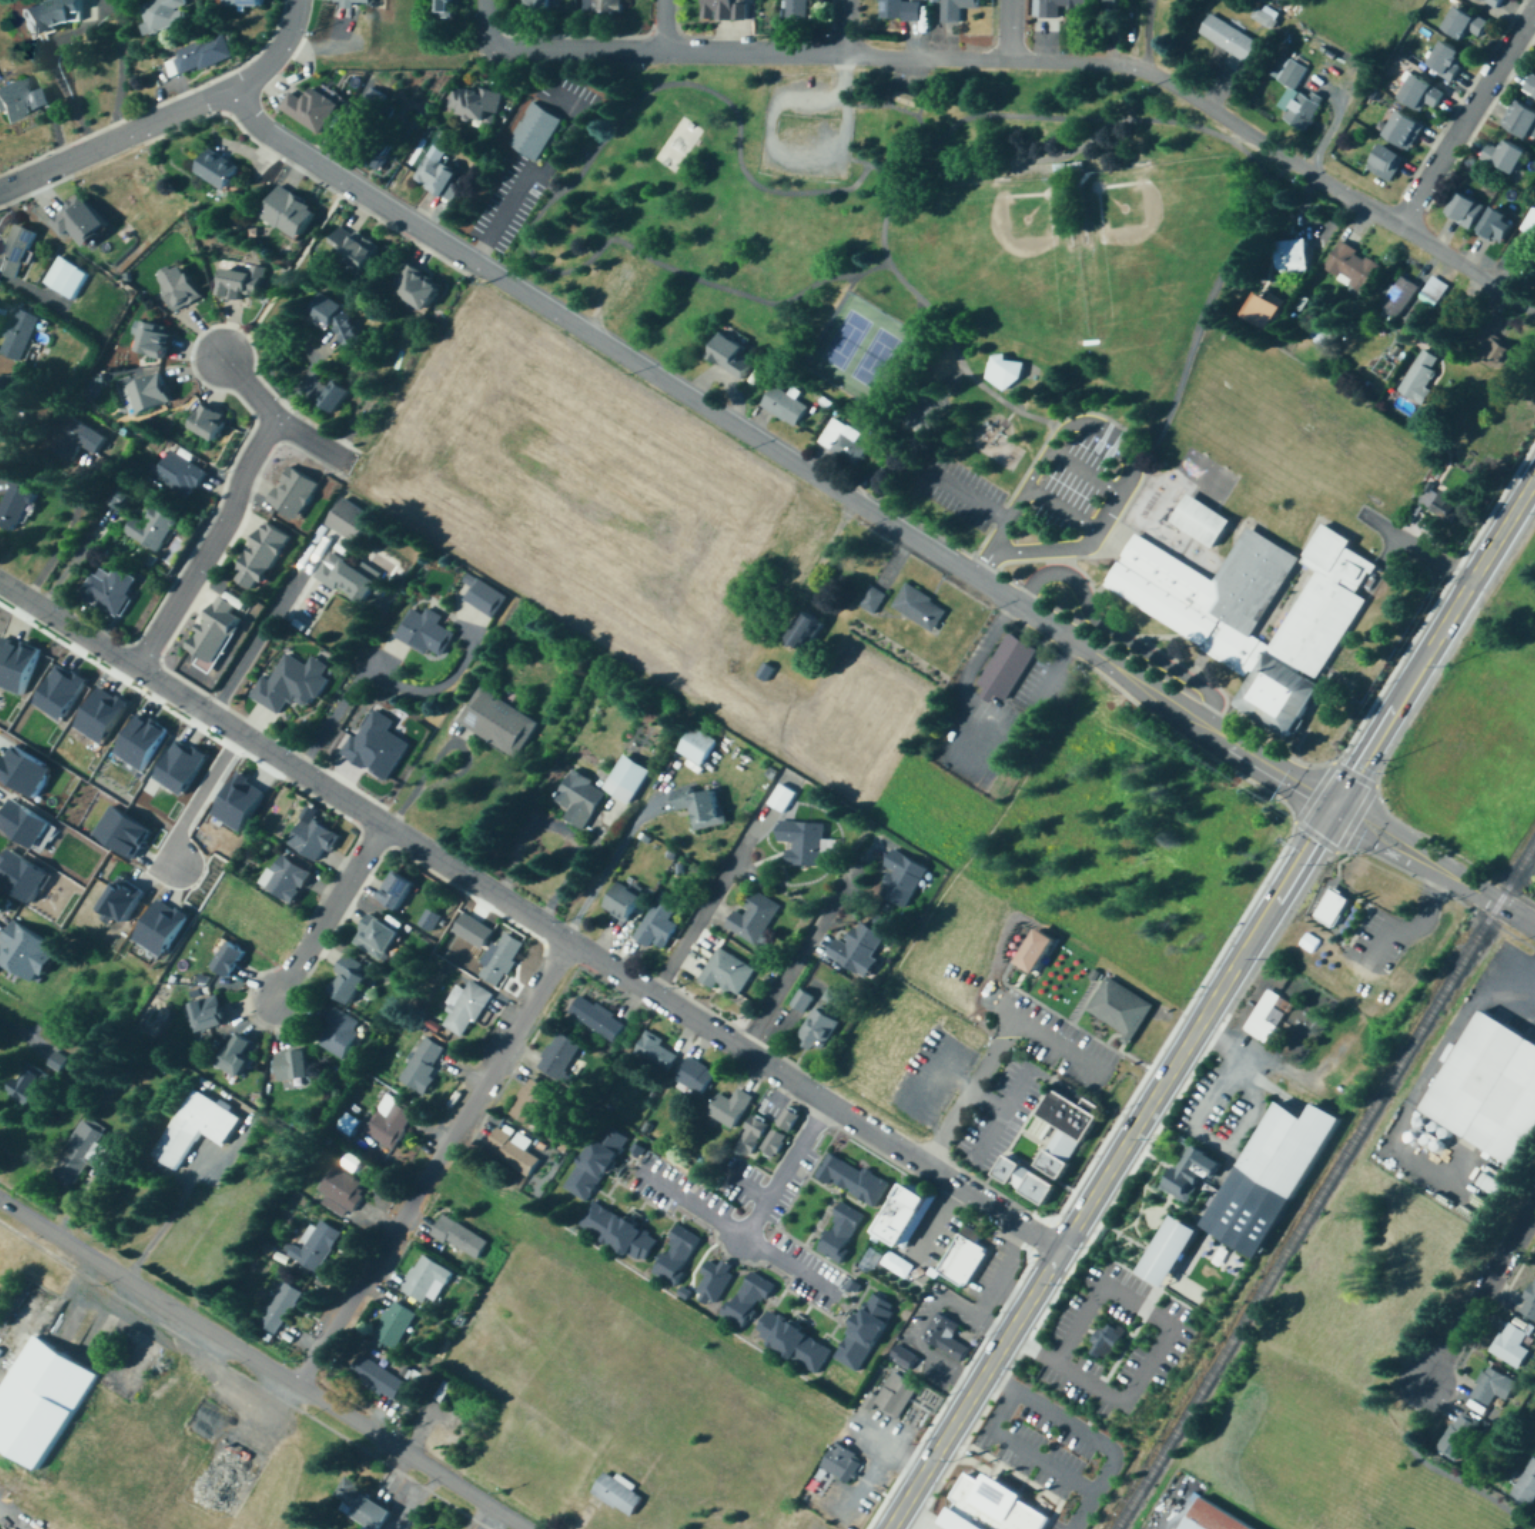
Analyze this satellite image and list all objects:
building: (242, 3)
building: (1114, 3)
building: (1493, 3)
building: (350, 5)
building: (537, 6)
building: (601, 7)
building: (1059, 7)
building: (957, 8)
road: (1147, 8)
road: (1150, 8)
building: (442, 9)
building: (795, 9)
building: (889, 10)
building: (718, 11)
building: (1266, 14)
building: (49, 16)
building: (165, 16)
road: (92, 18)
road: (293, 20)
building: (1464, 23)
road: (484, 25)
road: (662, 26)
road: (846, 29)
road: (1009, 32)
building: (1229, 37)
road: (1147, 46)
road: (312, 49)
road: (412, 52)
road: (665, 53)
building: (198, 56)
building: (1446, 61)
road: (913, 76)
road: (847, 78)
building: (1530, 85)
parking lot: (909, 86)
road: (923, 90)
building: (1420, 95)
building: (1295, 96)
building: (903, 100)
building: (20, 101)
building: (472, 104)
building: (310, 109)
road: (898, 109)
road: (1213, 114)
road: (1467, 117)
road: (1070, 118)
building: (1523, 122)
road: (149, 124)
building: (1404, 131)
building: (532, 132)
road: (573, 135)
road: (1236, 137)
park: (679, 147)
road: (775, 154)
building: (1504, 157)
road: (853, 160)
building: (1385, 163)
building: (217, 170)
building: (435, 176)
road: (576, 177)
road: (344, 183)
road: (541, 183)
park: (722, 197)
building: (292, 210)
building: (1464, 211)
building: (85, 218)
road: (499, 219)
building: (1530, 224)
building: (1495, 226)
park: (1152, 241)
building: (354, 248)
building: (15, 251)
park: (1006, 252)
building: (1299, 254)
building: (1514, 254)
building: (1354, 265)
building: (64, 278)
building: (241, 283)
building: (183, 284)
building: (414, 288)
building: (1436, 290)
building: (1405, 295)
road: (838, 304)
building: (1267, 309)
building: (340, 318)
building: (17, 335)
building: (156, 336)
park: (844, 339)
building: (1499, 348)
park: (860, 349)
building: (734, 353)
park: (873, 359)
building: (1007, 368)
building: (1418, 377)
building: (152, 391)
building: (333, 397)
building: (783, 405)
road: (718, 418)
road: (279, 422)
building: (207, 423)
building: (14, 425)
building: (74, 440)
building: (840, 442)
road: (1149, 446)
road: (1130, 460)
road: (1083, 472)
building: (179, 476)
parking lot: (1072, 484)
parking lot: (957, 491)
building: (293, 494)
road: (962, 494)
building: (16, 501)
building: (1442, 501)
road: (1060, 511)
building: (1200, 522)
building: (351, 523)
road: (1502, 529)
building: (151, 530)
road: (62, 535)
road: (209, 546)
road: (1417, 549)
building: (259, 559)
road: (73, 561)
road: (1055, 562)
building: (347, 578)
building: (108, 590)
road: (11, 592)
building: (482, 597)
building: (871, 601)
building: (918, 608)
road: (1028, 613)
building: (1255, 614)
building: (425, 633)
road: (1116, 634)
building: (214, 635)
building: (806, 635)
road: (248, 645)
building: (19, 663)
building: (768, 669)
building: (1006, 672)
road: (360, 676)
road: (157, 684)
building: (290, 685)
building: (63, 690)
building: (105, 714)
building: (497, 723)
road: (1210, 736)
building: (144, 740)
building: (380, 744)
building: (696, 746)
road: (436, 754)
building: (183, 765)
road: (964, 765)
building: (29, 768)
building: (626, 778)
road: (194, 796)
building: (780, 797)
building: (577, 798)
building: (243, 801)
building: (701, 807)
traffic signals: (1332, 809)
road: (1356, 814)
building: (26, 821)
road: (385, 826)
road: (564, 828)
building: (126, 830)
building: (310, 838)
building: (802, 842)
road: (1440, 861)
road: (1409, 865)
road: (609, 866)
building: (26, 874)
building: (901, 878)
building: (284, 879)
building: (395, 891)
building: (125, 899)
building: (622, 901)
road: (710, 906)
building: (1331, 909)
road: (329, 912)
road: (523, 913)
road: (1516, 915)
building: (432, 917)
building: (752, 918)
building: (657, 922)
building: (166, 926)
building: (476, 929)
building: (374, 937)
building: (1043, 948)
building: (29, 949)
building: (857, 949)
building: (226, 958)
building: (500, 959)
road: (801, 960)
building: (726, 972)
building: (1094, 977)
building: (349, 979)
building: (801, 1000)
building: (466, 1009)
building: (1121, 1010)
building: (208, 1012)
road: (1009, 1016)
building: (596, 1018)
road: (688, 1018)
building: (1264, 1021)
building: (819, 1026)
building: (339, 1033)
road: (999, 1051)
building: (655, 1052)
building: (236, 1055)
building: (558, 1055)
road: (1178, 1055)
building: (59, 1059)
building: (292, 1064)
building: (421, 1065)
building: (694, 1076)
road: (928, 1079)
building: (27, 1083)
road: (950, 1086)
building: (1490, 1087)
road: (1018, 1097)
building: (530, 1101)
building: (729, 1107)
building: (791, 1117)
building: (388, 1120)
building: (348, 1122)
road: (1001, 1124)
building: (194, 1128)
road: (866, 1129)
road: (1197, 1129)
building: (1066, 1131)
building: (754, 1134)
building: (775, 1140)
building: (84, 1150)
building: (523, 1156)
building: (599, 1162)
road: (433, 1165)
road: (193, 1177)
building: (856, 1177)
building: (1497, 1181)
building: (1026, 1182)
railway: (1324, 1186)
road: (745, 1187)
building: (341, 1188)
road: (992, 1207)
building: (909, 1216)
building: (1234, 1217)
road: (753, 1228)
building: (622, 1229)
building: (844, 1231)
road: (936, 1232)
building: (460, 1237)
building: (314, 1247)
building: (680, 1253)
building: (901, 1260)
building: (964, 1263)
road: (790, 1271)
building: (717, 1279)
building: (425, 1280)
road: (1095, 1282)
road: (990, 1289)
road: (1479, 1293)
building: (750, 1297)
building: (1528, 1303)
building: (279, 1310)
building: (393, 1325)
building: (869, 1331)
building: (796, 1339)
road: (916, 1339)
building: (946, 1339)
building: (1511, 1344)
building: (1105, 1348)
building: (906, 1356)
road: (263, 1365)
building: (376, 1378)
building: (1490, 1386)
building: (39, 1398)
building: (896, 1398)
building: (871, 1402)
road: (1112, 1404)
road: (869, 1436)
building: (1458, 1436)
road: (877, 1460)
building: (842, 1465)
road: (1096, 1482)
building: (1526, 1485)
building: (616, 1494)
building: (362, 1505)
building: (986, 1505)
road: (1080, 1510)
building: (1213, 1518)
building: (809, 1523)
road: (7, 1524)
building: (432, 1528)
building: (437, 1528)

